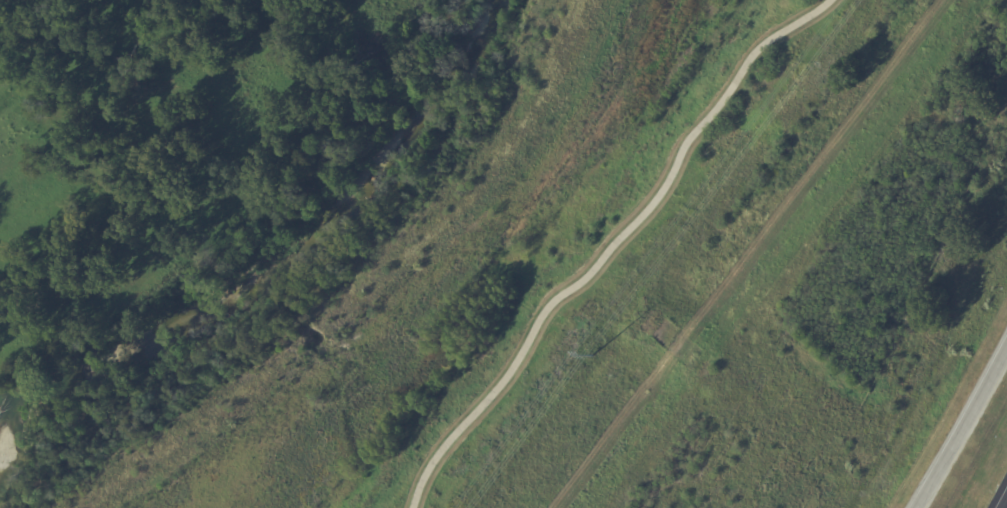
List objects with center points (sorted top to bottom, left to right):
road: (613, 244)
river: (294, 257)
power tower: (598, 357)
road: (966, 431)
road: (1004, 504)

